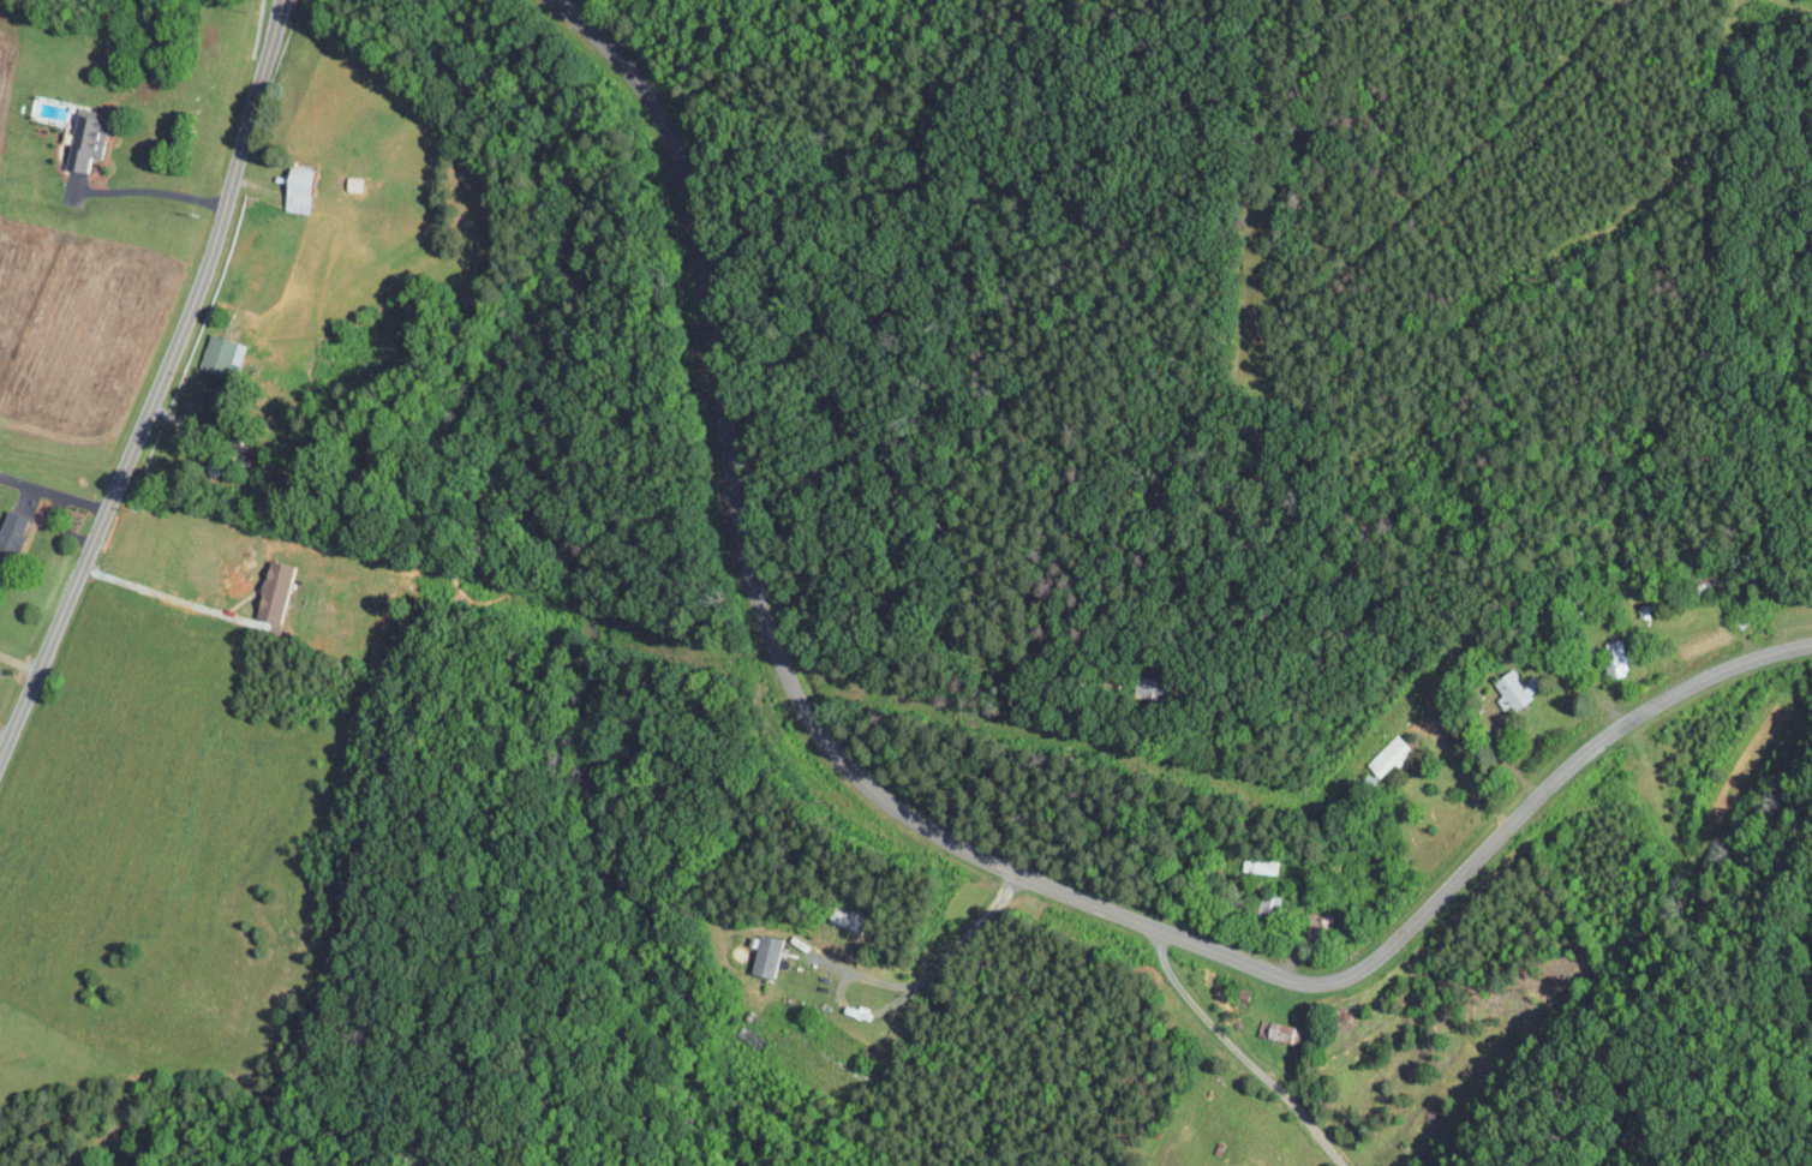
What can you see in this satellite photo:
building: (83, 144)
road: (144, 189)
building: (294, 190)
building: (220, 355)
road: (156, 382)
building: (10, 532)
building: (269, 590)
road: (171, 597)
building: (1617, 650)
road: (17, 660)
building: (1513, 689)
road: (4, 734)
building: (1387, 755)
road: (962, 847)
building: (761, 955)
road: (940, 963)
building: (1278, 1030)
road: (1239, 1052)

